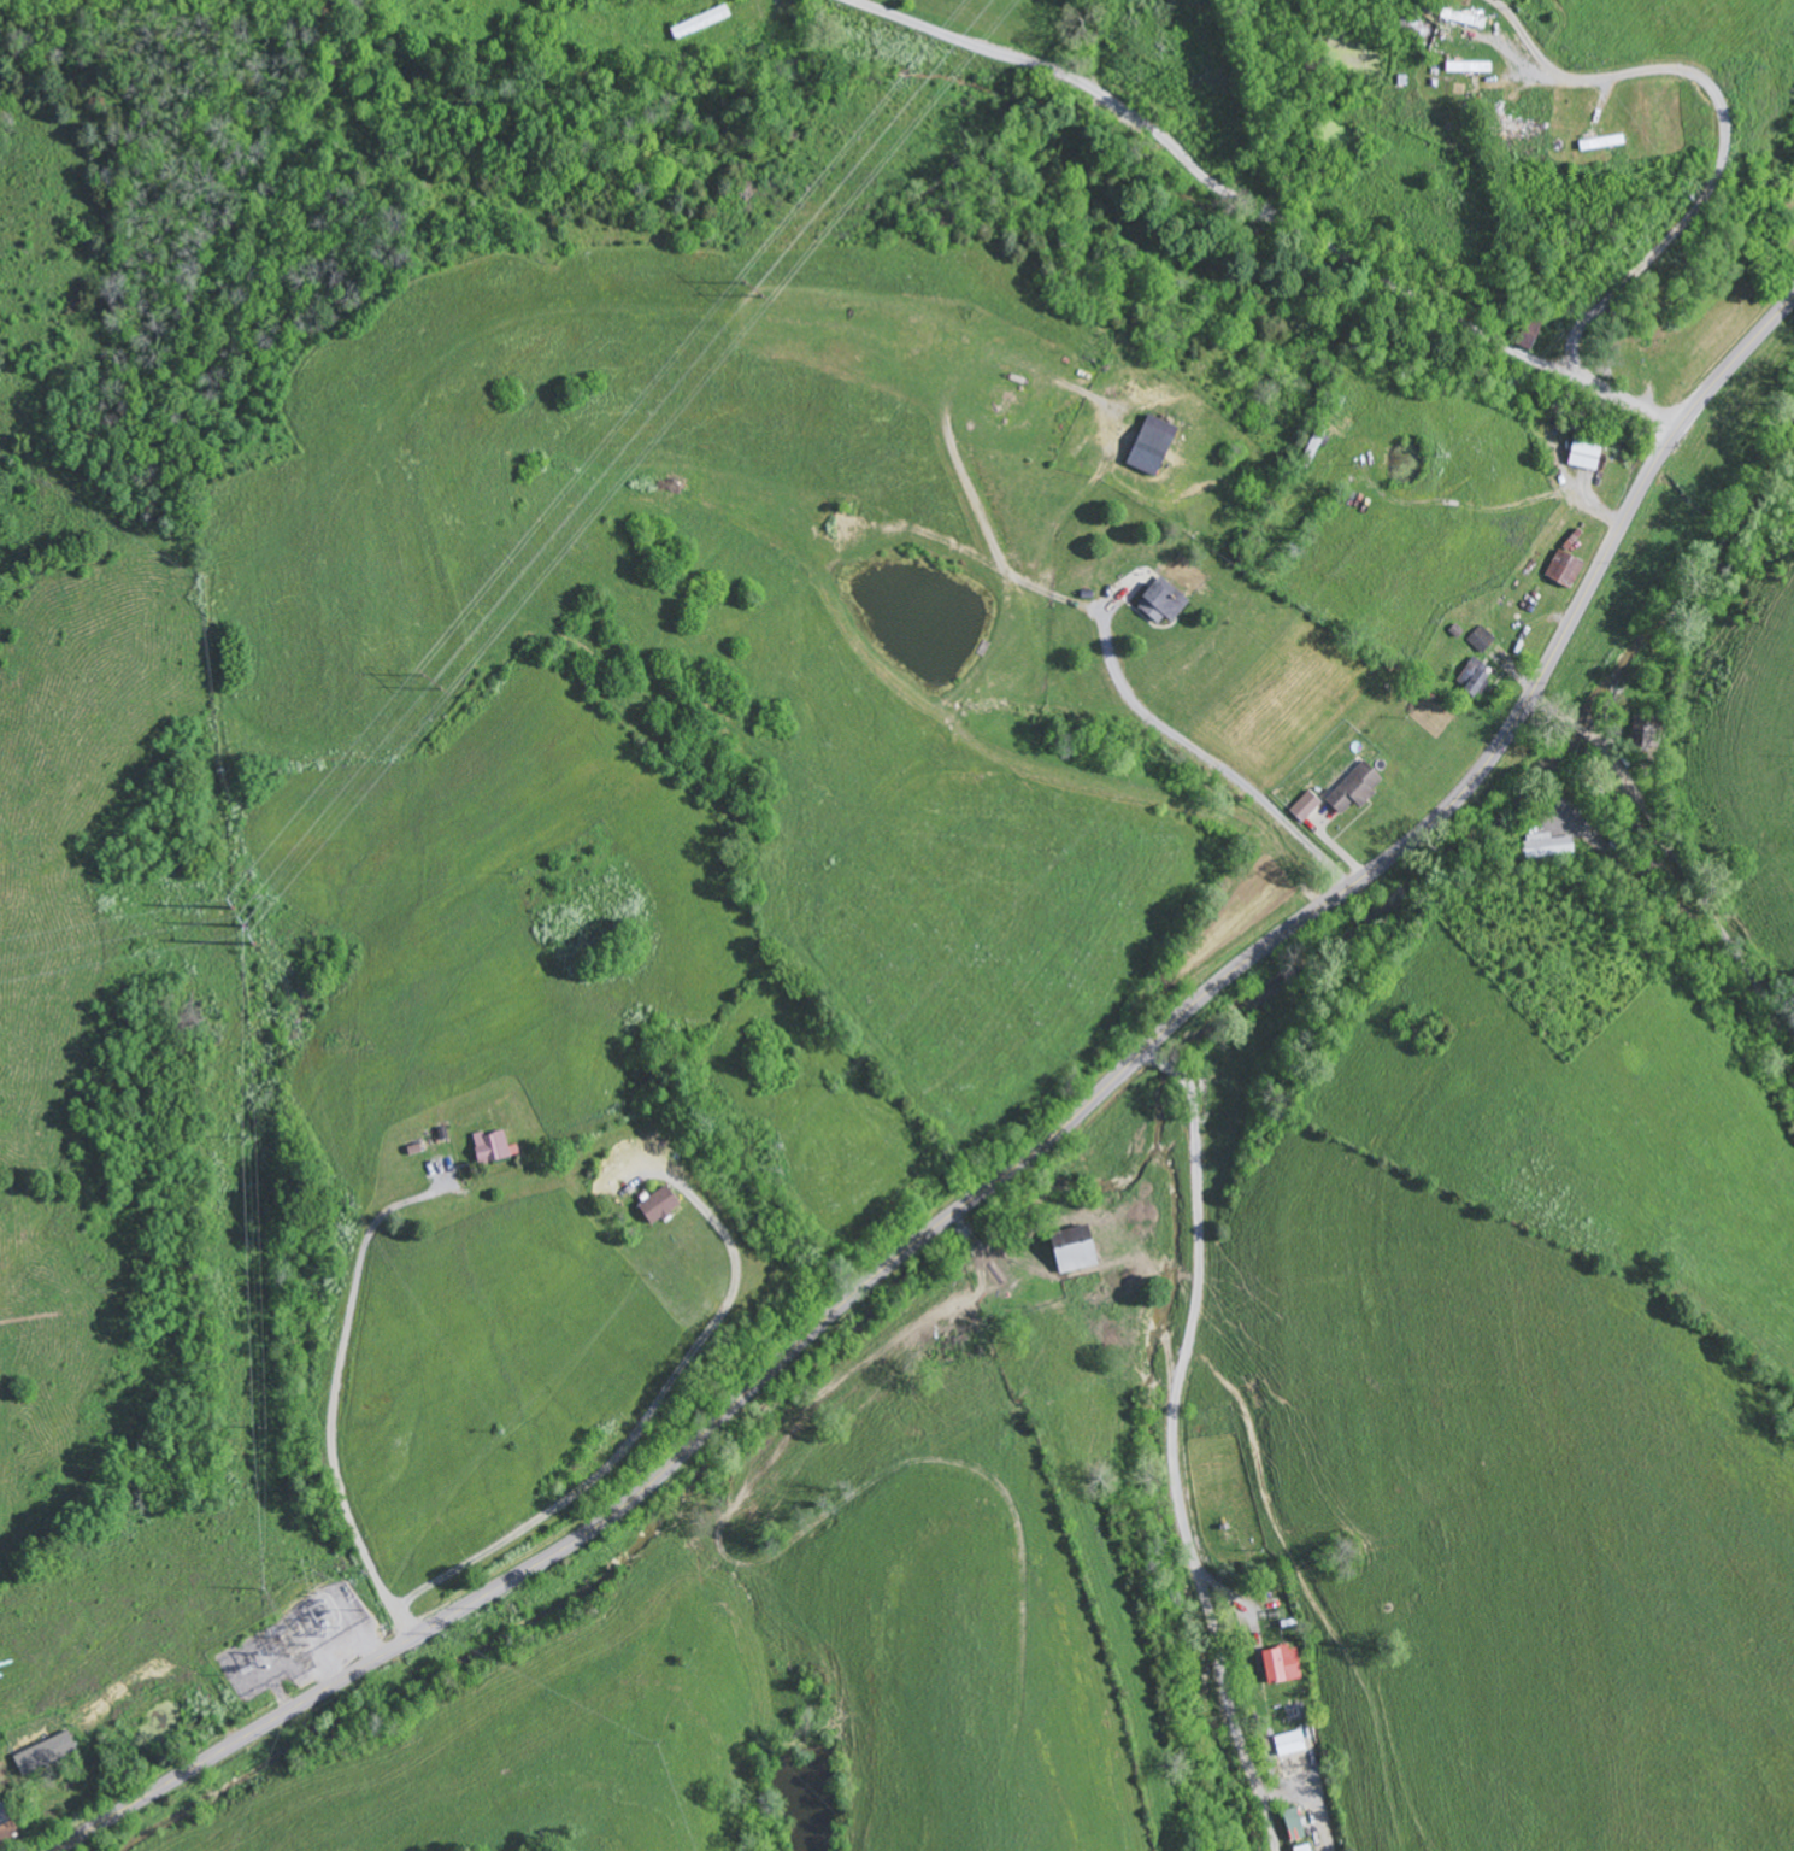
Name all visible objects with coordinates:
road: (1723, 133)
road: (1205, 184)
power tower: (760, 294)
road: (1592, 393)
road: (1645, 418)
building: (1159, 446)
building: (1588, 456)
building: (1570, 569)
building: (1167, 604)
building: (1486, 640)
building: (1477, 677)
power tower: (437, 684)
building: (1647, 731)
building: (1361, 788)
building: (1310, 806)
building: (1549, 846)
road: (1672, 860)
power tower: (240, 930)
power tower: (247, 1142)
building: (499, 1148)
road: (1016, 1168)
building: (666, 1206)
building: (1083, 1250)
power tower: (261, 1428)
road: (640, 1432)
road: (1172, 1446)
power tower: (259, 1591)
power substation: (300, 1640)
power tower: (269, 1662)
building: (1284, 1664)
building: (51, 1752)
power tower: (1019, 1800)
building: (7, 1826)
building: (1296, 1826)
building: (1307, 1849)

